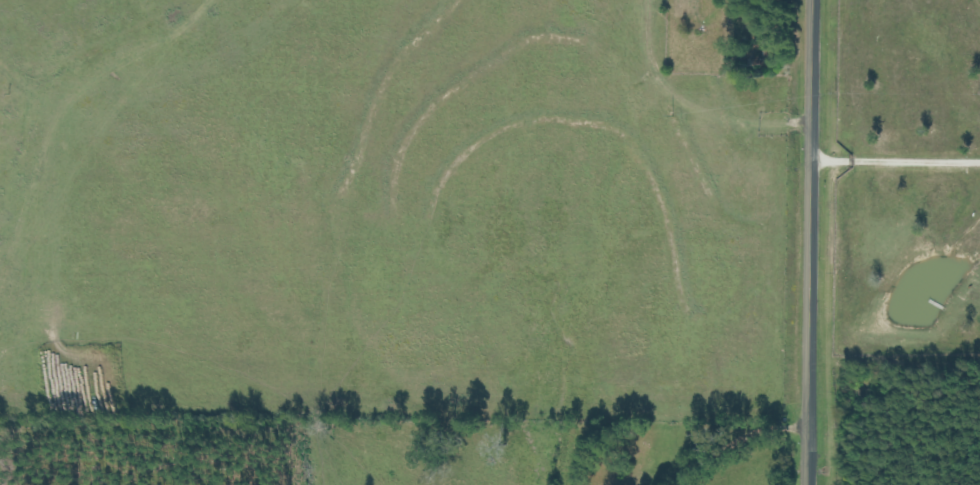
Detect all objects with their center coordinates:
road: (810, 242)

